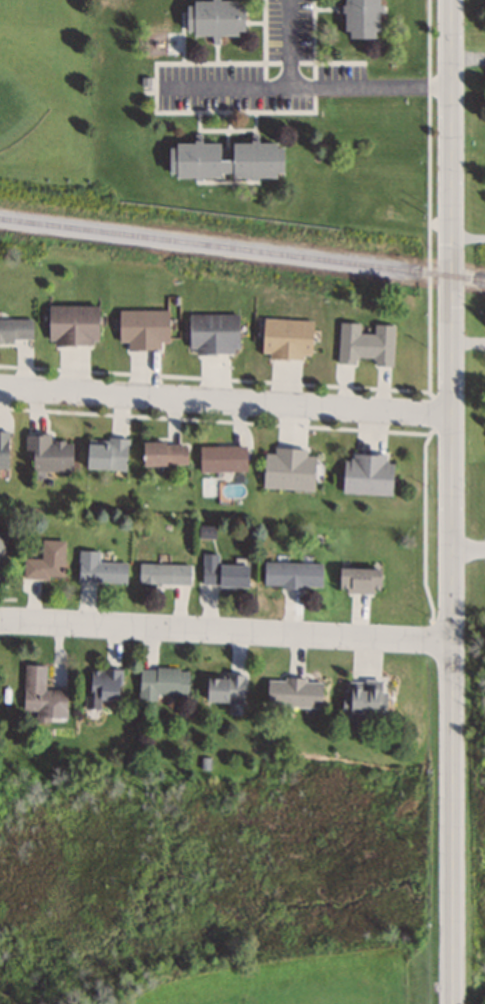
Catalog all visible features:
building: (212, 19)
building: (358, 19)
road: (327, 86)
park: (47, 98)
building: (223, 161)
building: (72, 324)
building: (142, 328)
building: (16, 330)
building: (212, 333)
building: (286, 338)
building: (365, 344)
road: (225, 402)
building: (3, 449)
building: (48, 453)
building: (105, 453)
building: (162, 453)
building: (221, 458)
building: (288, 469)
building: (366, 475)
road: (450, 501)
road: (468, 548)
building: (2, 553)
building: (46, 561)
building: (99, 568)
building: (224, 571)
building: (163, 573)
building: (292, 574)
building: (358, 580)
road: (225, 631)
building: (162, 681)
building: (102, 684)
building: (223, 687)
building: (293, 692)
building: (41, 695)
building: (363, 699)
park: (474, 798)

